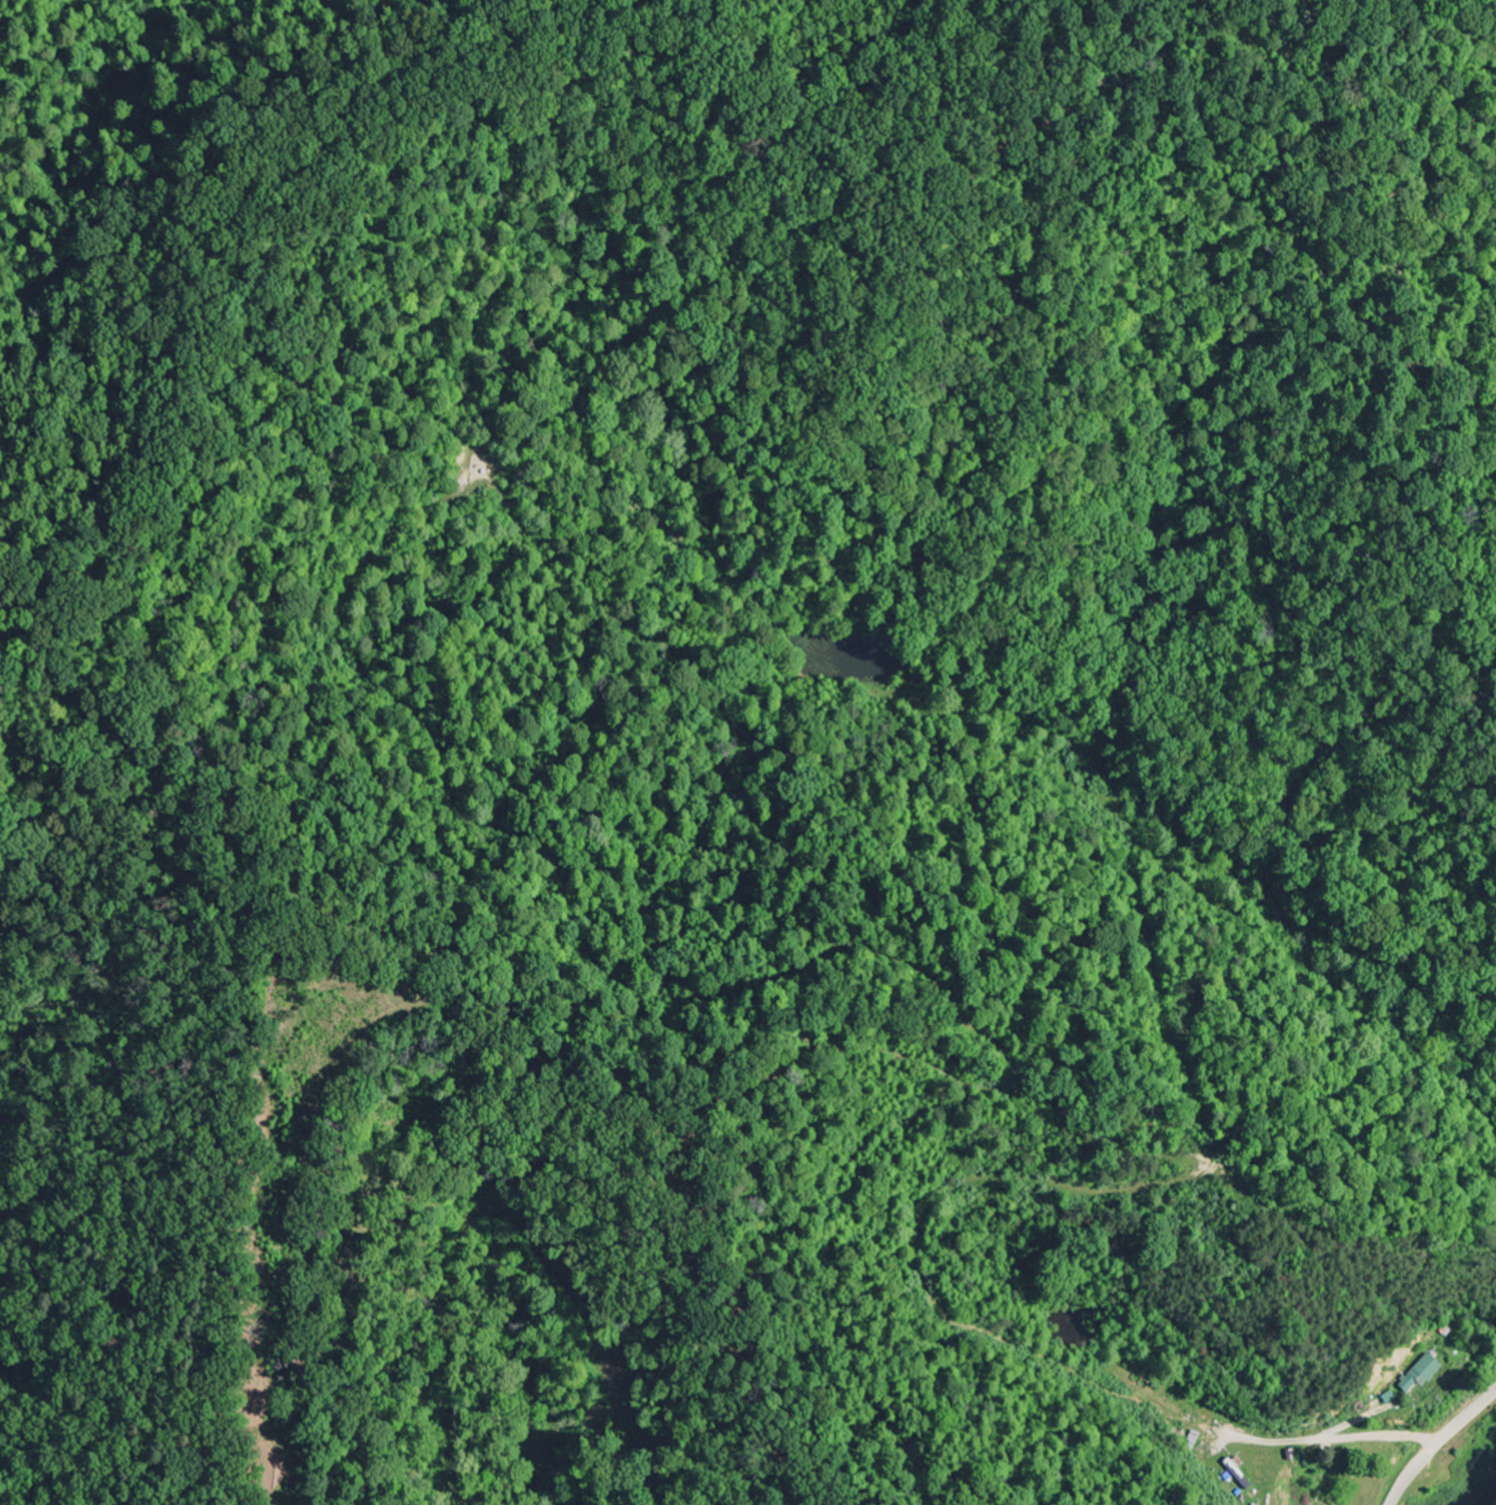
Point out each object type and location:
building: (1423, 1373)
road: (1358, 1437)
road: (1438, 1442)

